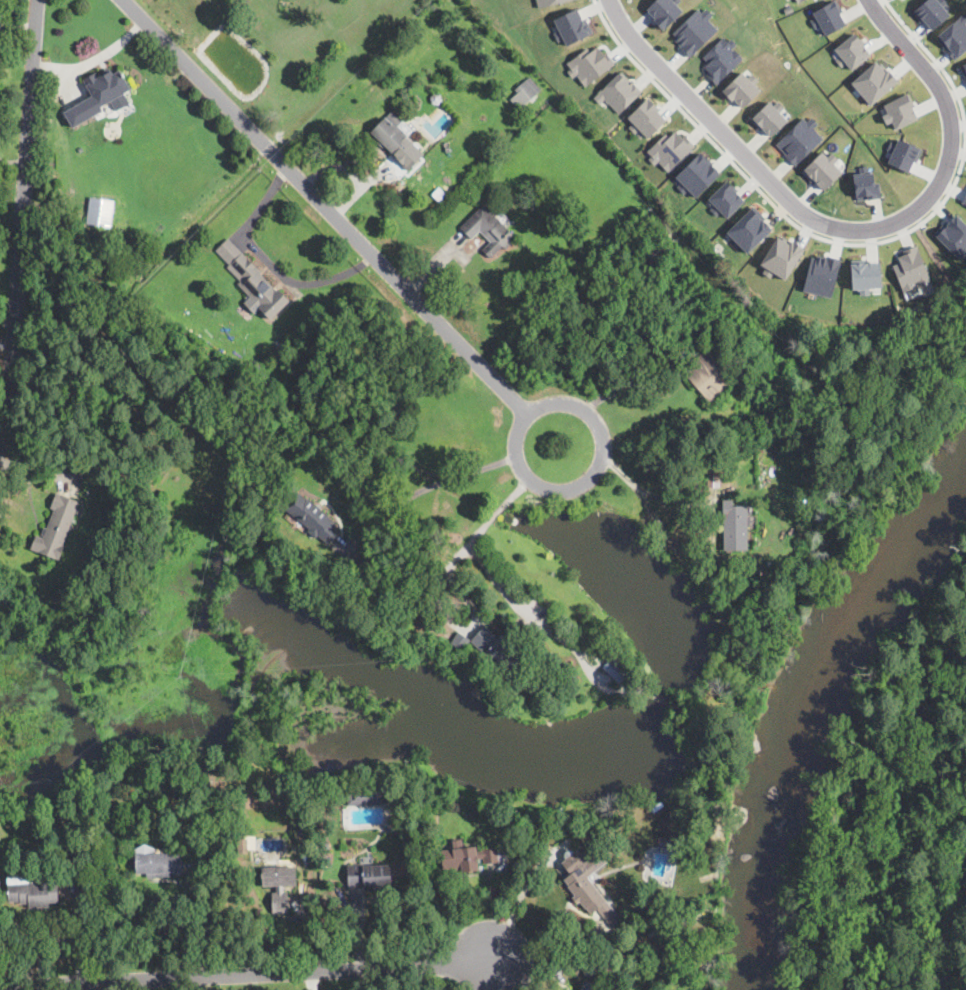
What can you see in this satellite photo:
building: (797, 0)
building: (547, 2)
building: (664, 10)
building: (932, 12)
building: (828, 17)
road: (18, 24)
building: (571, 26)
building: (695, 30)
building: (954, 37)
building: (851, 52)
building: (722, 57)
road: (94, 58)
building: (589, 64)
building: (964, 67)
building: (874, 81)
building: (106, 87)
building: (743, 88)
building: (528, 89)
building: (619, 92)
building: (436, 99)
building: (899, 111)
building: (770, 117)
building: (646, 118)
road: (696, 125)
building: (394, 139)
building: (800, 141)
building: (669, 149)
building: (903, 155)
road: (13, 162)
building: (823, 171)
building: (697, 174)
building: (866, 185)
building: (725, 199)
building: (964, 200)
road: (326, 205)
building: (100, 210)
road: (23, 224)
road: (839, 228)
building: (489, 230)
building: (749, 230)
building: (954, 235)
building: (657, 253)
building: (782, 256)
building: (910, 272)
building: (821, 275)
building: (865, 275)
building: (258, 287)
building: (927, 313)
building: (709, 376)
road: (632, 383)
building: (725, 394)
building: (122, 425)
building: (713, 479)
road: (436, 483)
road: (574, 487)
road: (514, 492)
road: (496, 511)
building: (311, 517)
road: (712, 520)
building: (735, 526)
building: (55, 528)
road: (467, 543)
road: (526, 613)
building: (460, 641)
building: (498, 648)
building: (616, 670)
river: (813, 719)
building: (688, 779)
building: (365, 795)
building: (465, 797)
building: (648, 810)
building: (515, 821)
park: (897, 824)
building: (243, 846)
building: (472, 857)
building: (160, 865)
building: (370, 876)
building: (584, 879)
building: (279, 881)
building: (32, 891)
road: (514, 906)
building: (655, 929)
building: (592, 971)
road: (257, 975)
building: (591, 985)
road: (82, 986)

